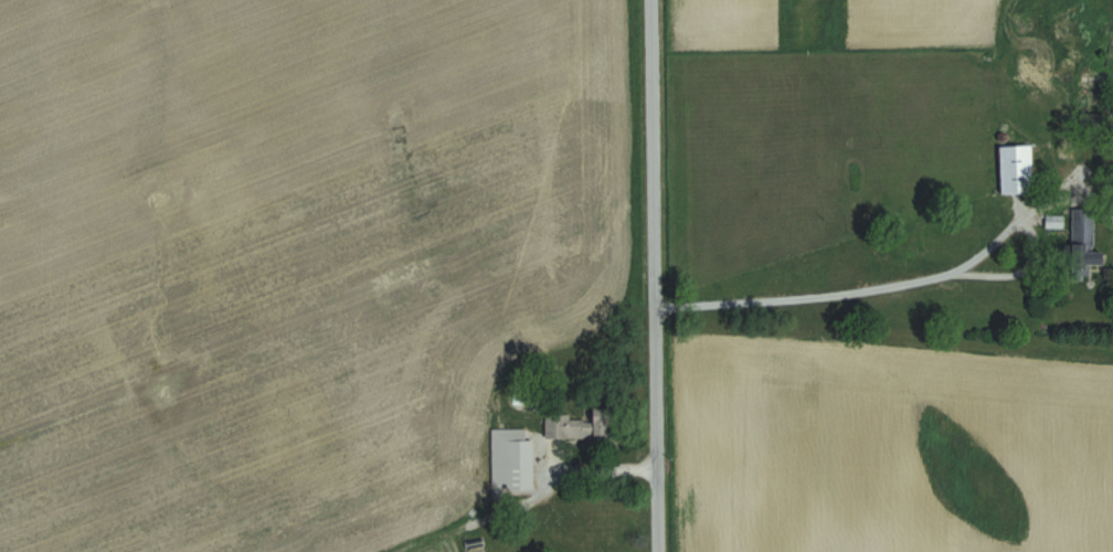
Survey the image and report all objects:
building: (1067, 60)
building: (1018, 169)
road: (644, 276)
road: (865, 279)
building: (583, 424)
building: (520, 464)

